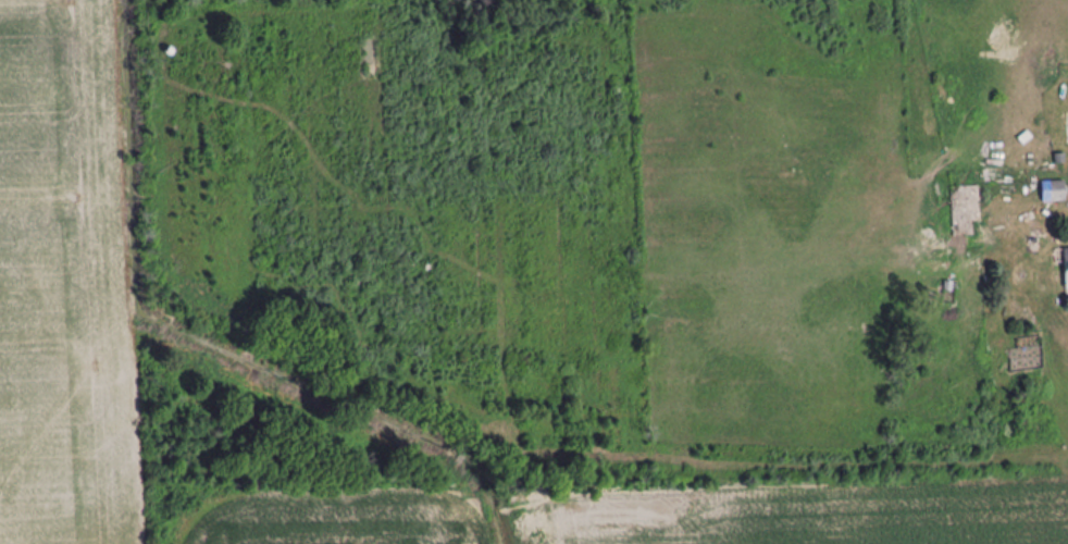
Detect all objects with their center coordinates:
building: (1055, 191)
building: (969, 211)
building: (1067, 268)

